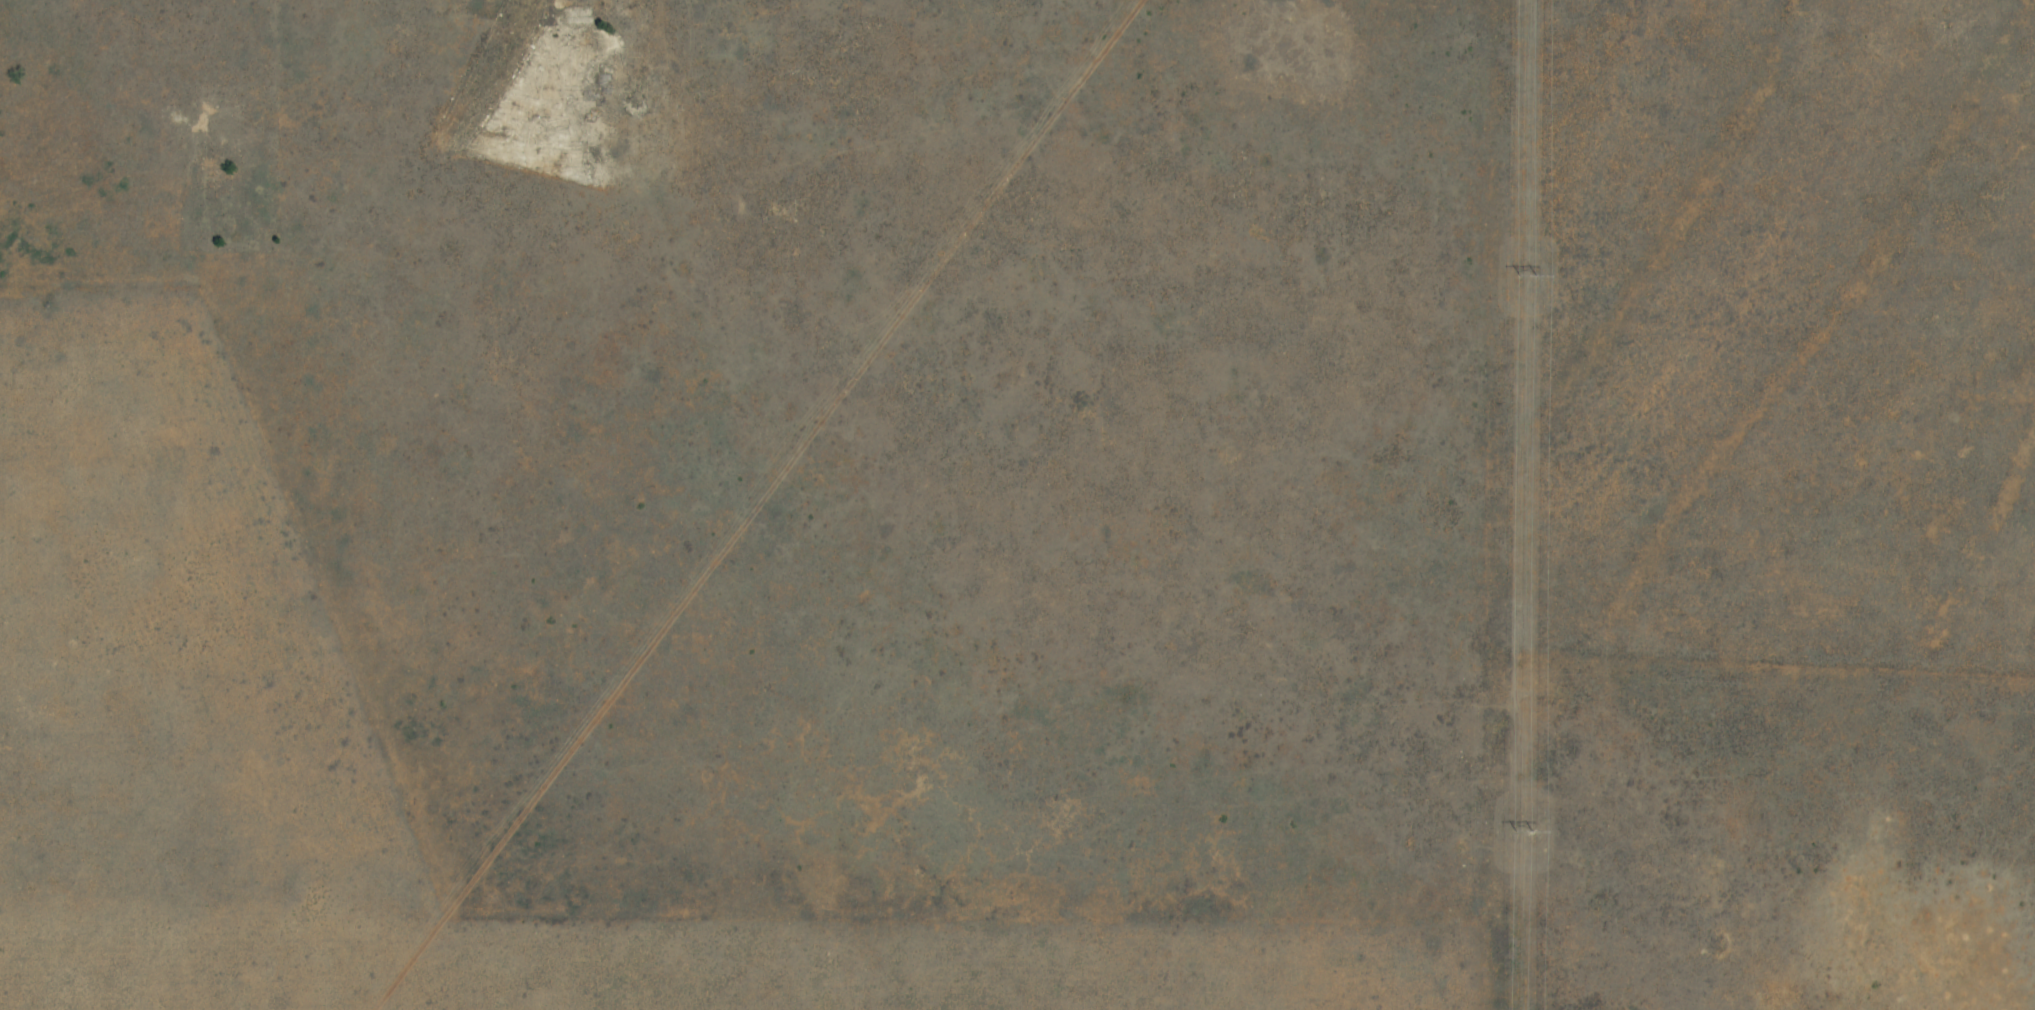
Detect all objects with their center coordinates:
power tower: (1526, 277)
power tower: (1524, 830)

